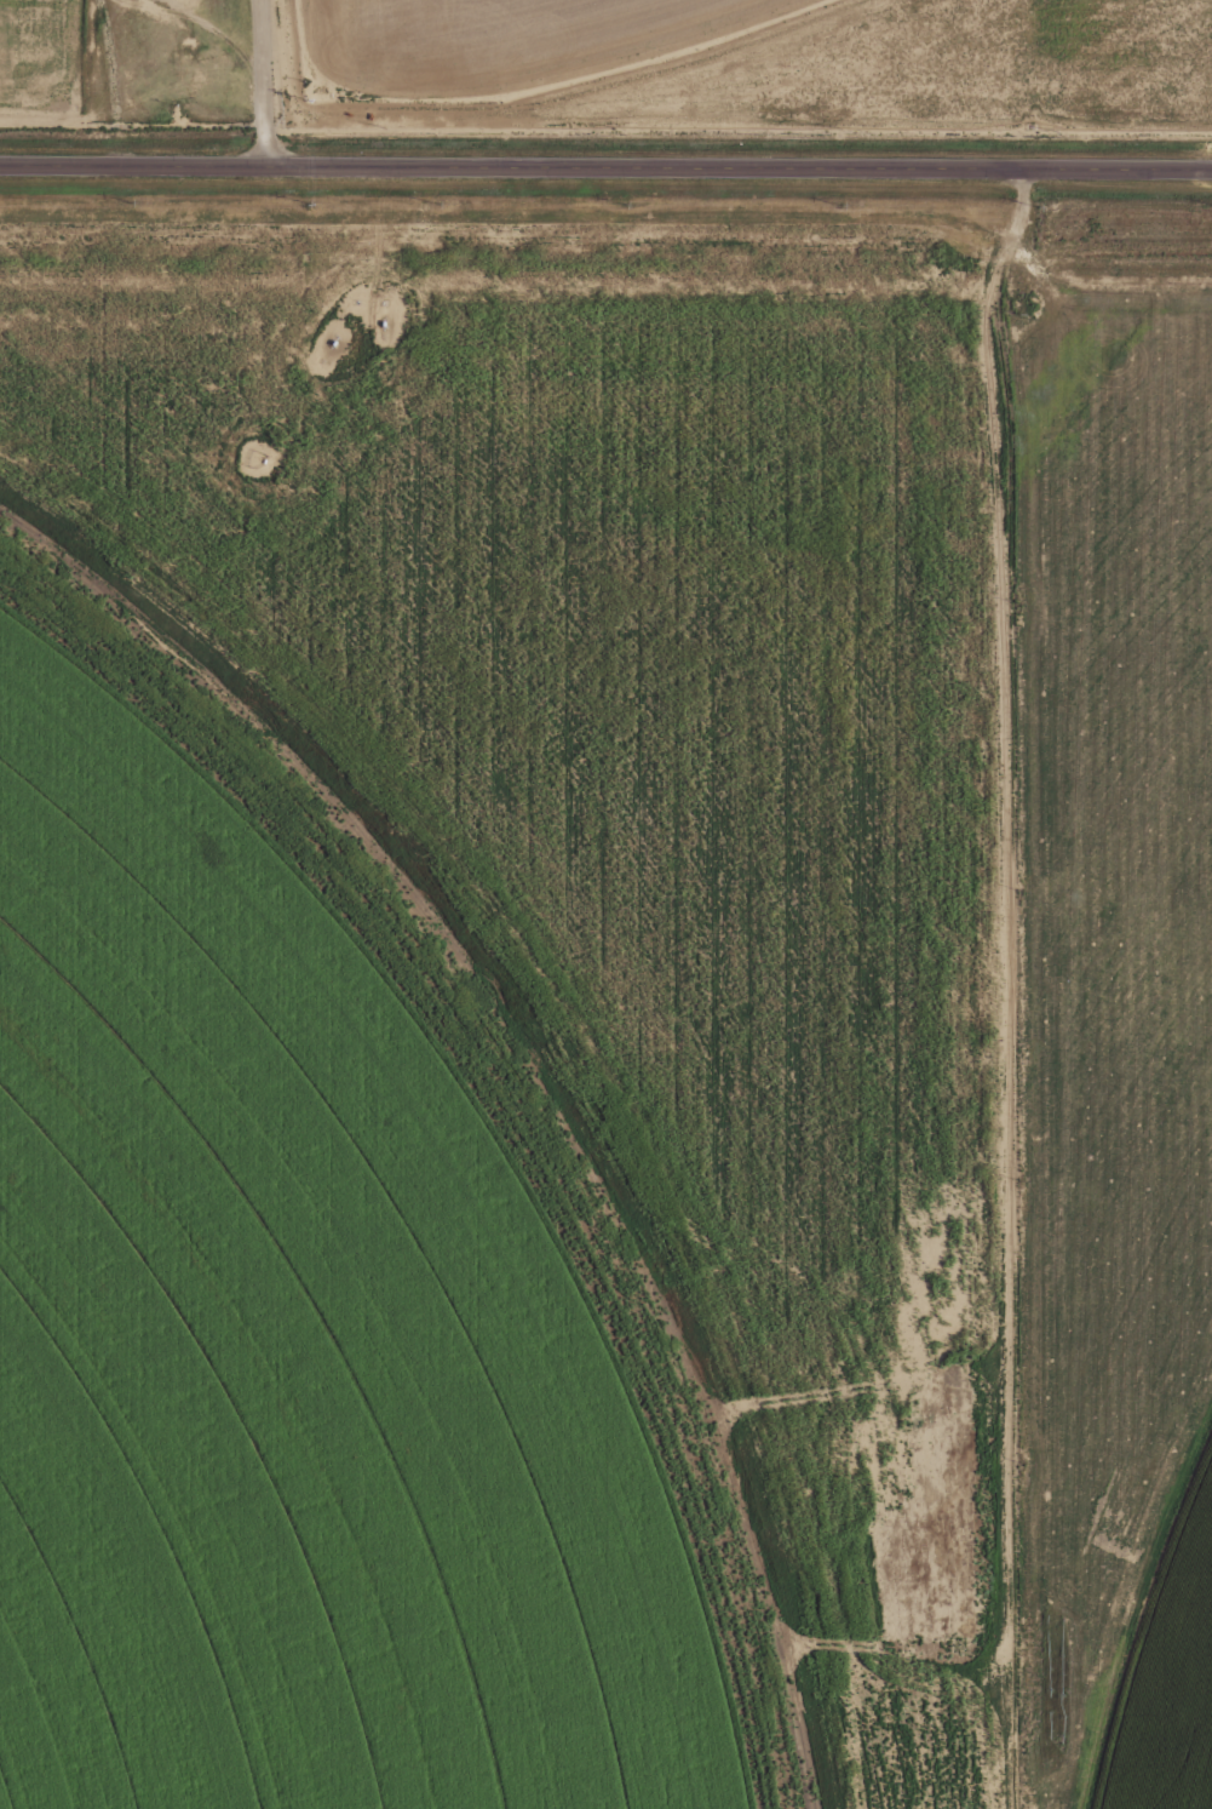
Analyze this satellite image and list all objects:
road: (605, 164)

